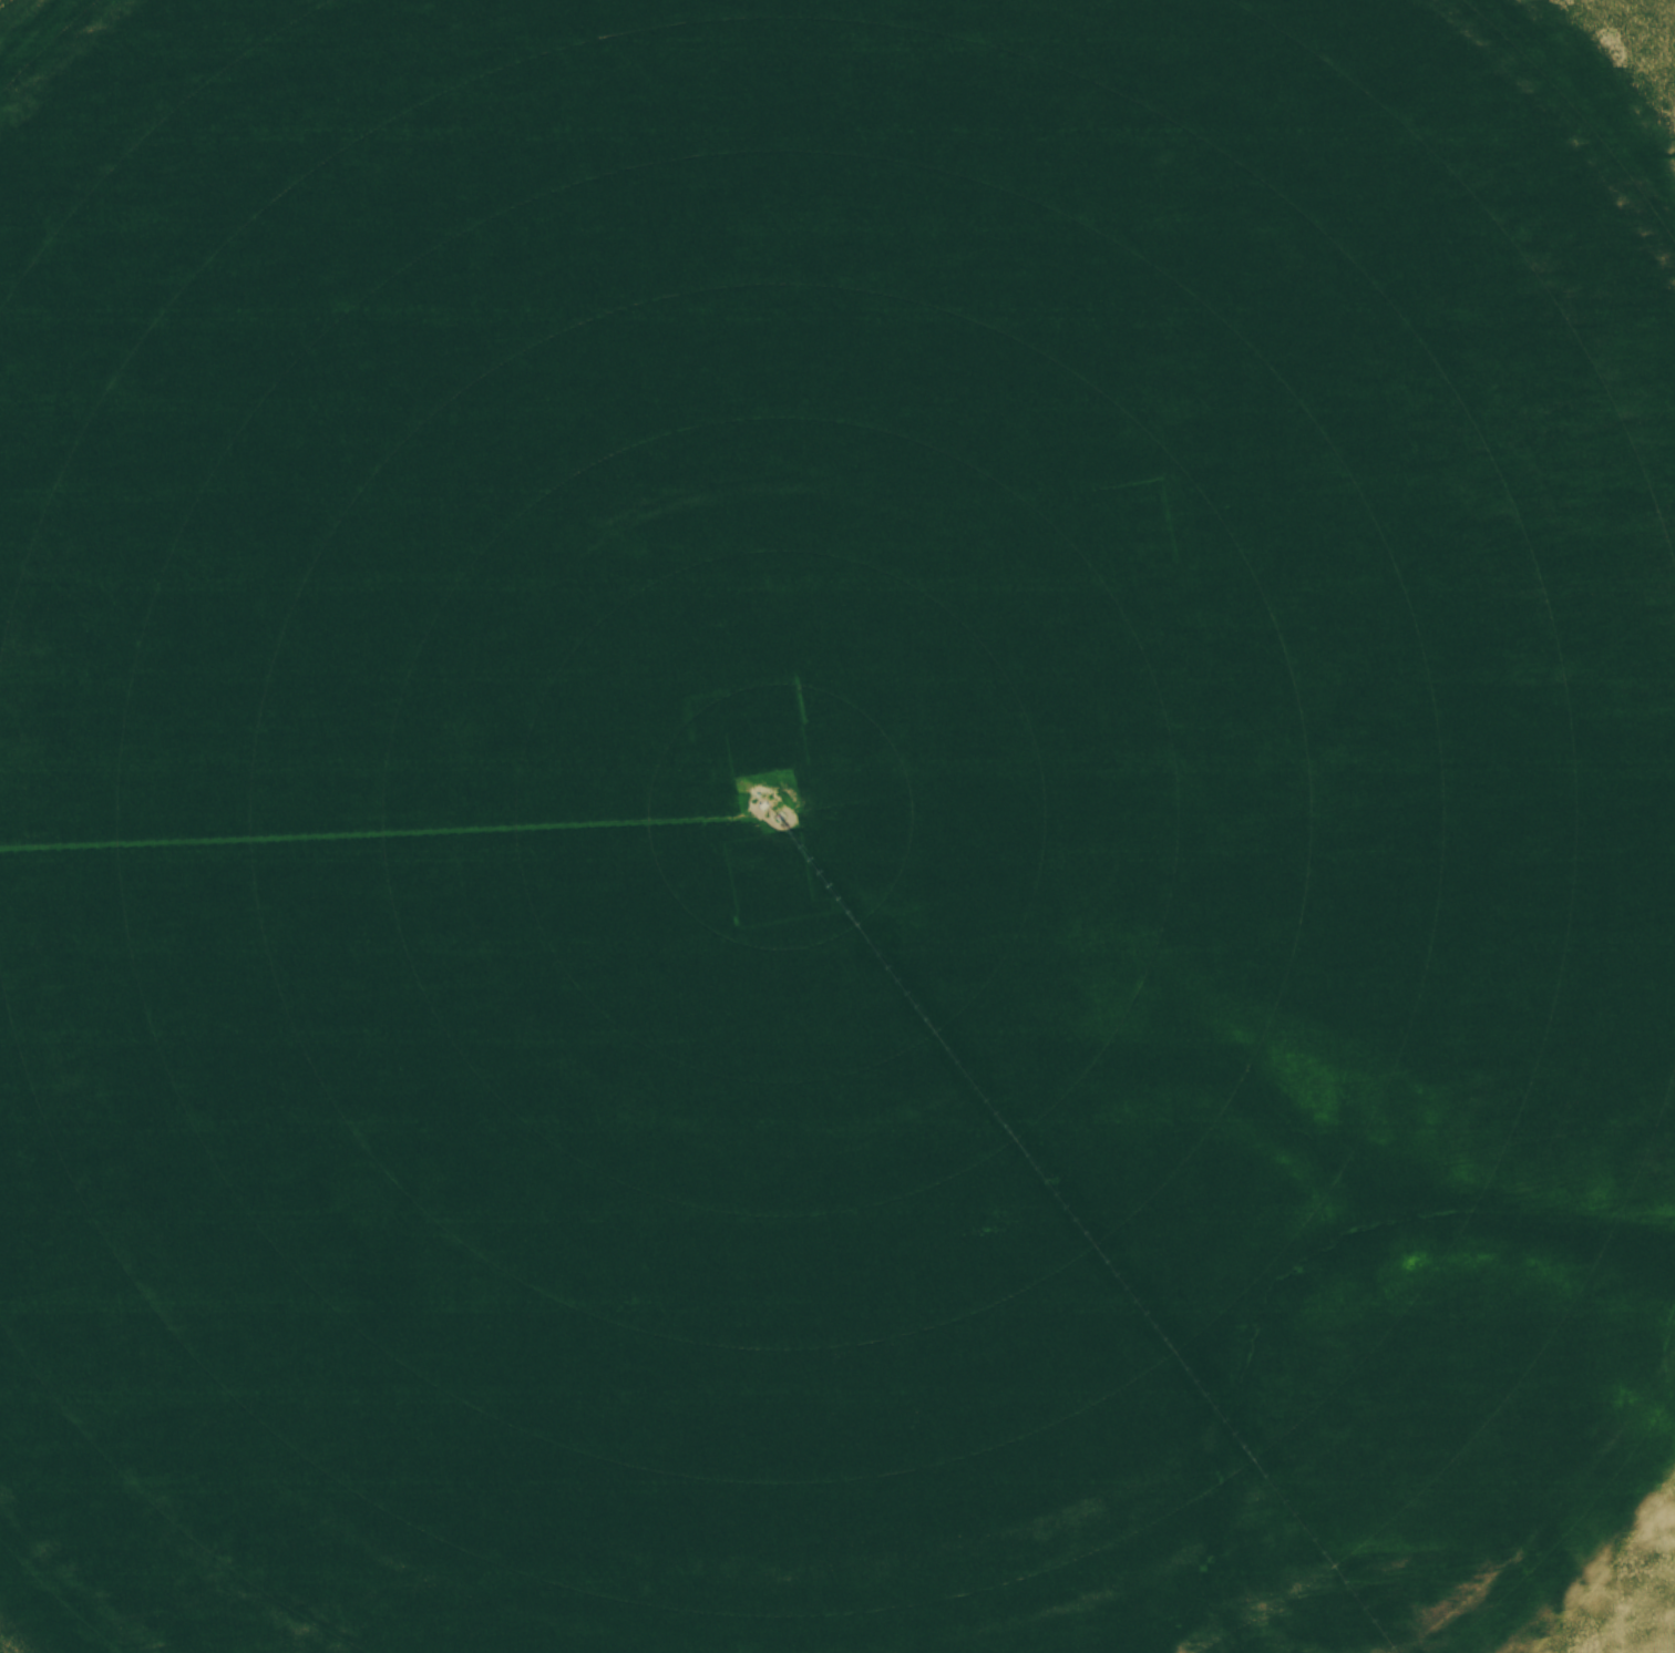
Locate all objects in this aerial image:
crop: (837, 826)

